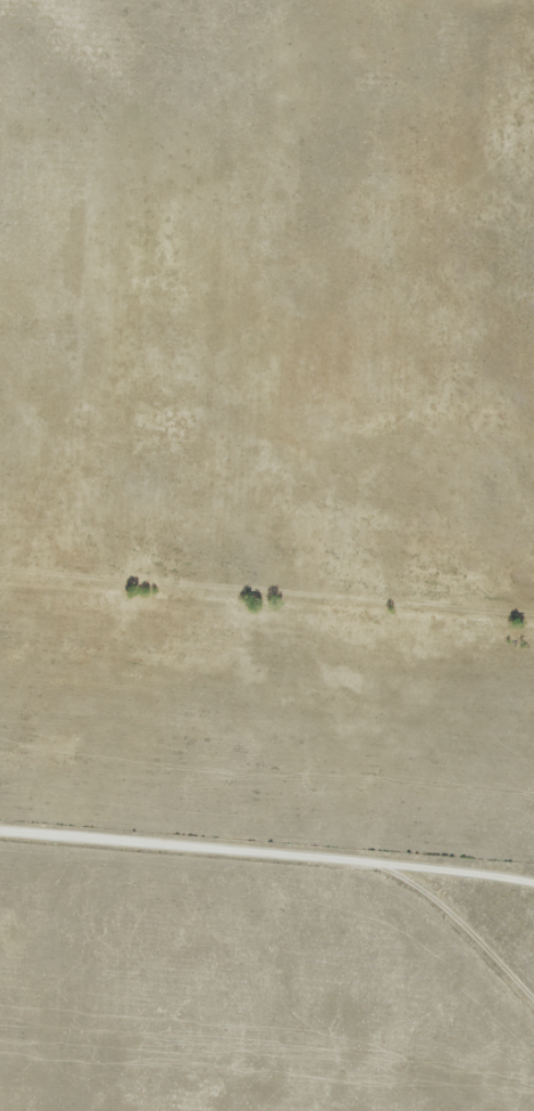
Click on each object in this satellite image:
road: (187, 847)
road: (454, 871)
road: (460, 925)

